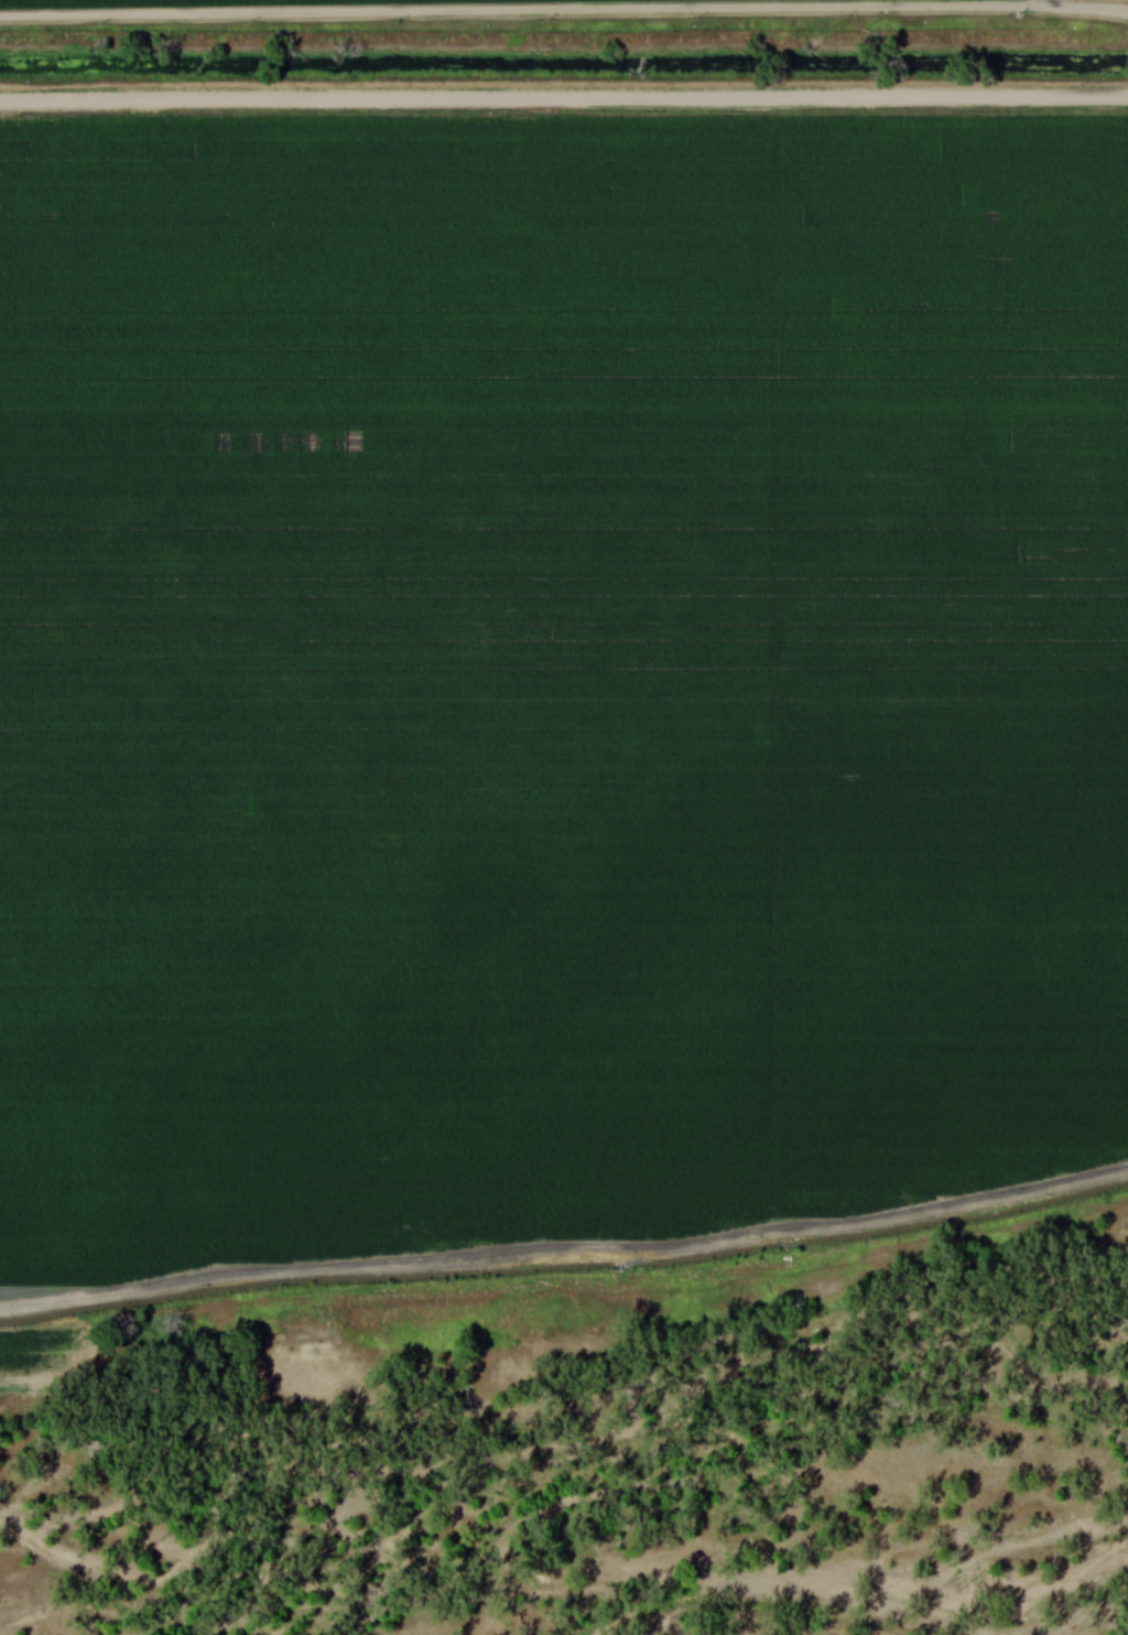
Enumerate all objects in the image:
road: (564, 12)
road: (563, 98)

